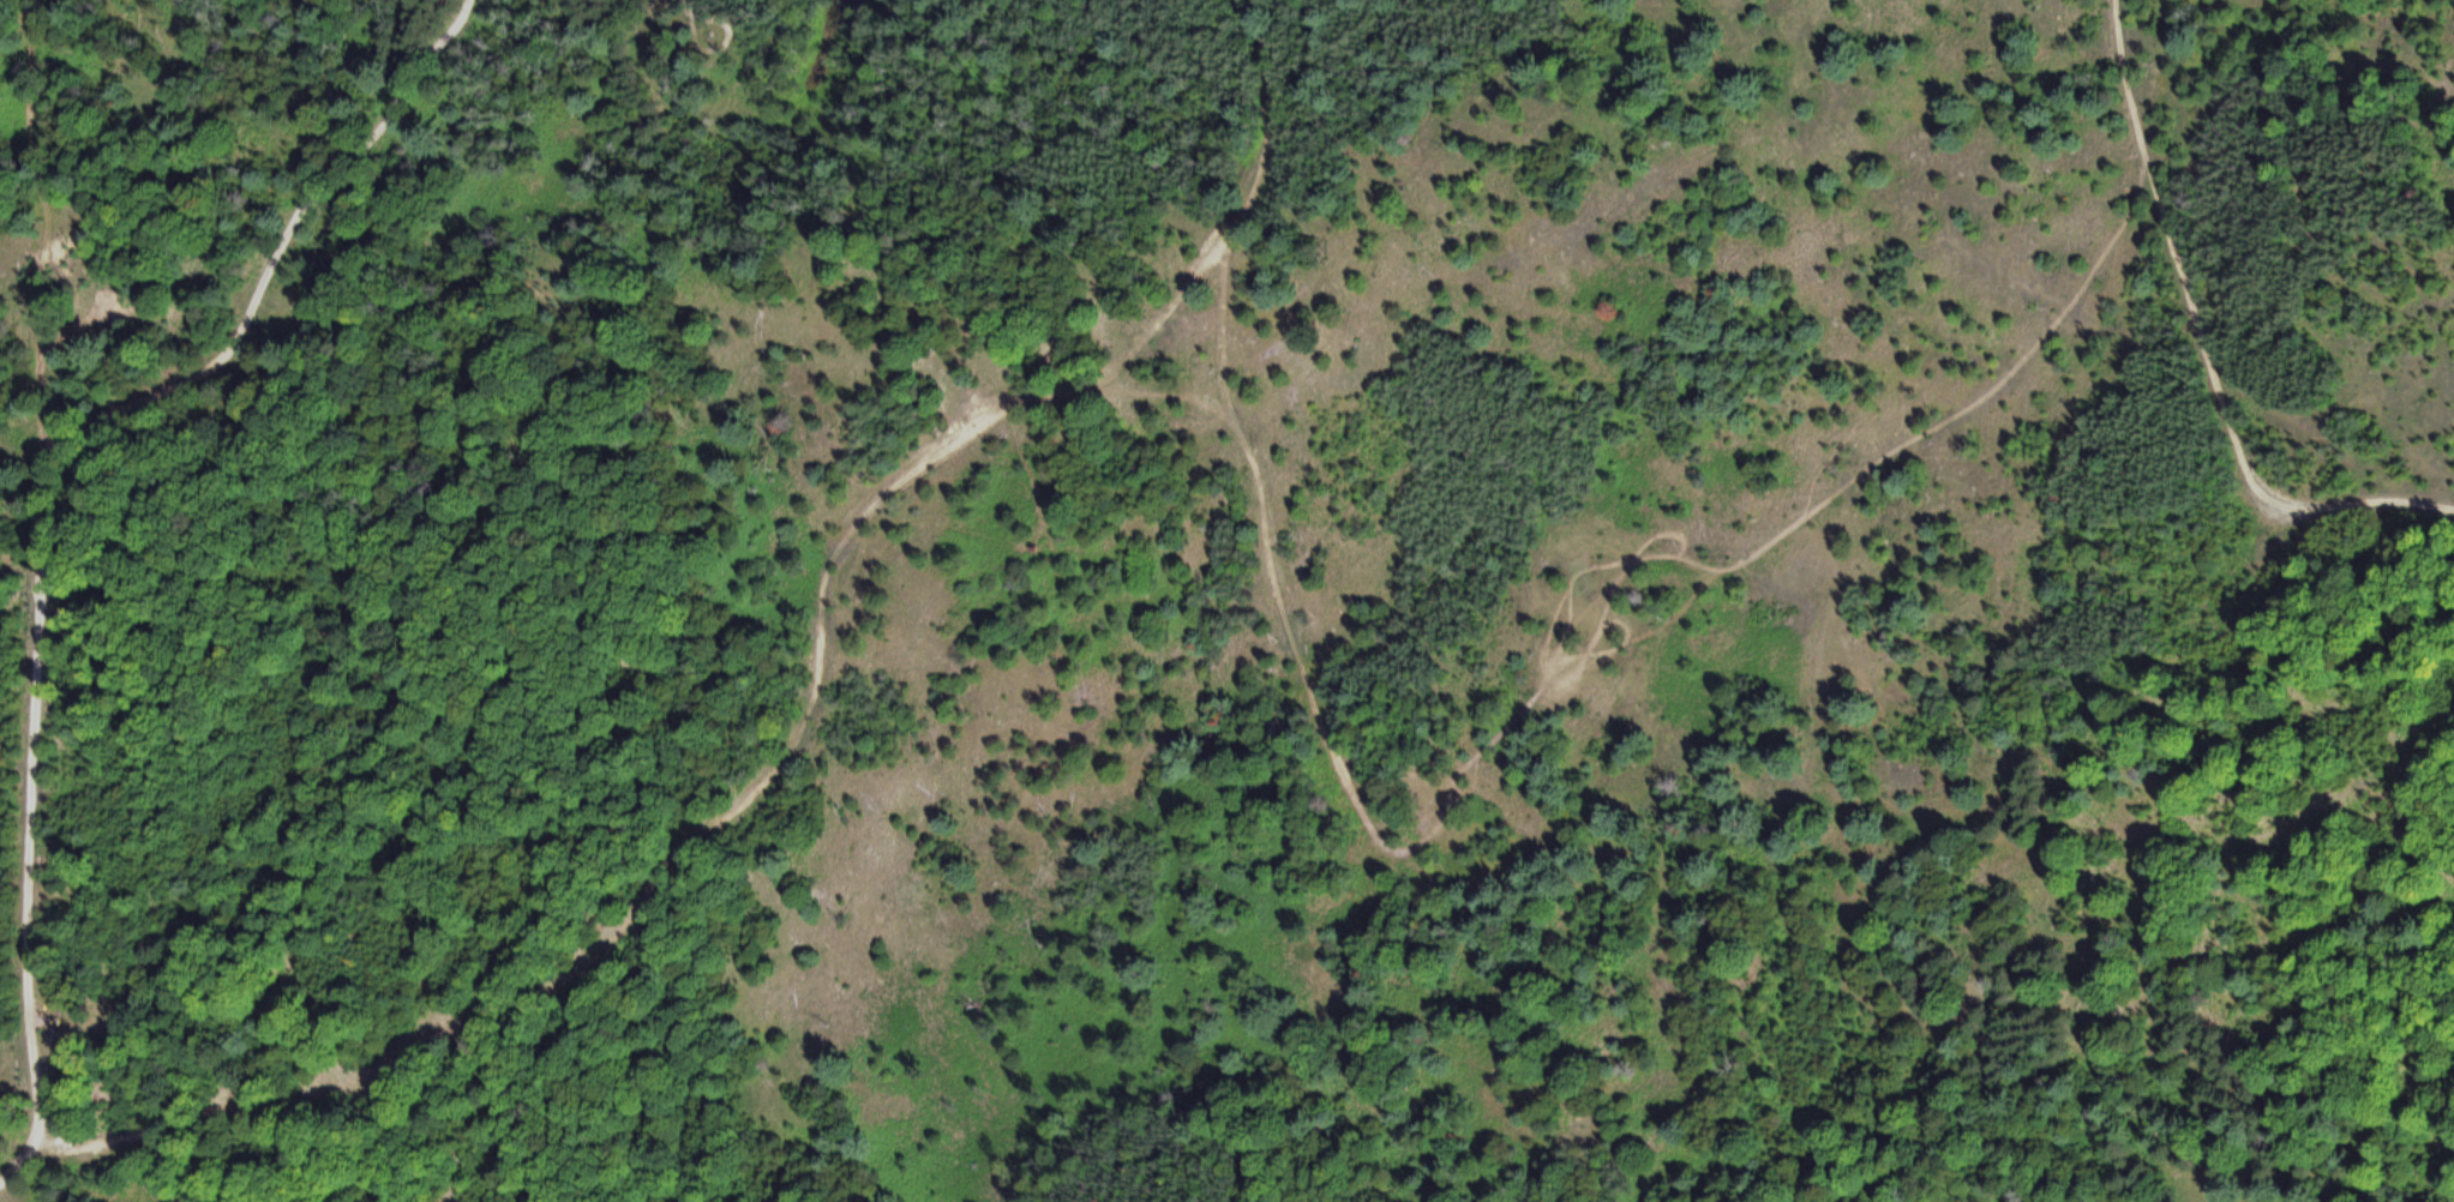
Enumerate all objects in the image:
road: (2208, 343)
road: (49, 507)
road: (790, 705)
road: (397, 1130)

